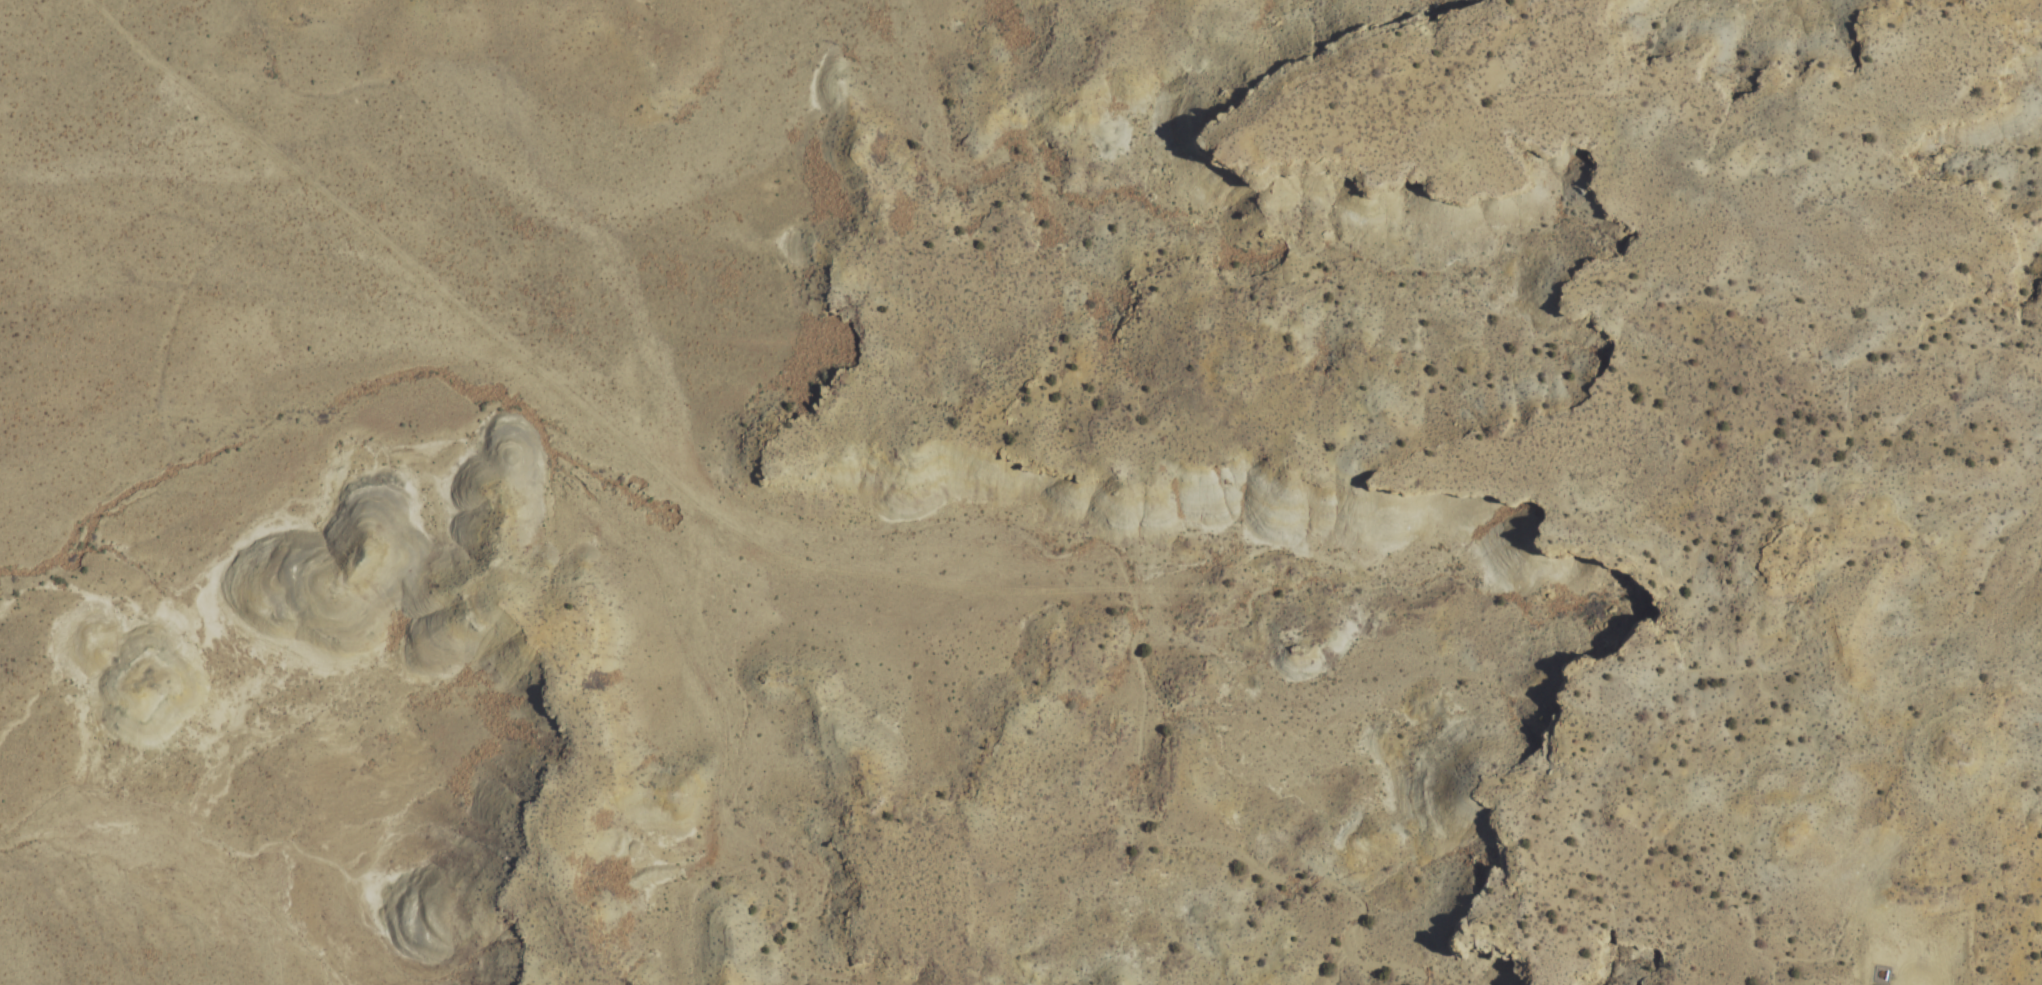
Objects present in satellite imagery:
road: (1918, 940)

